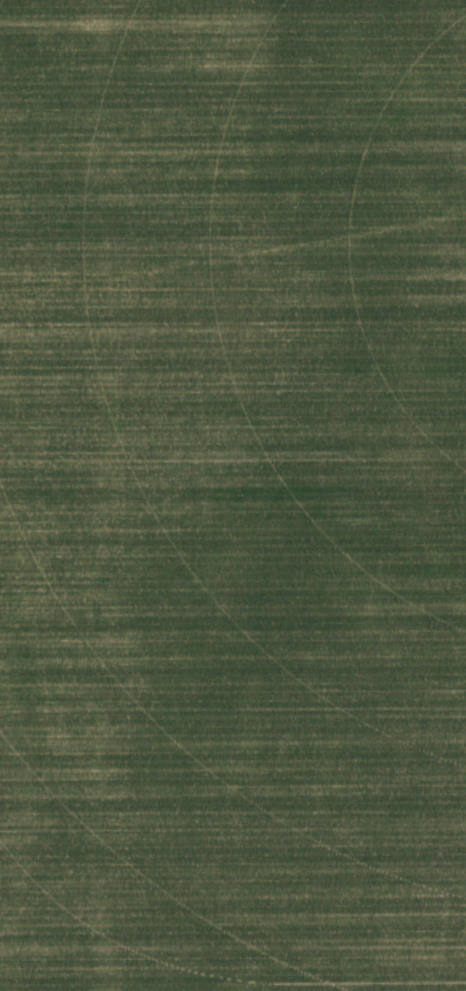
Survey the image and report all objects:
crop: (233, 495)

